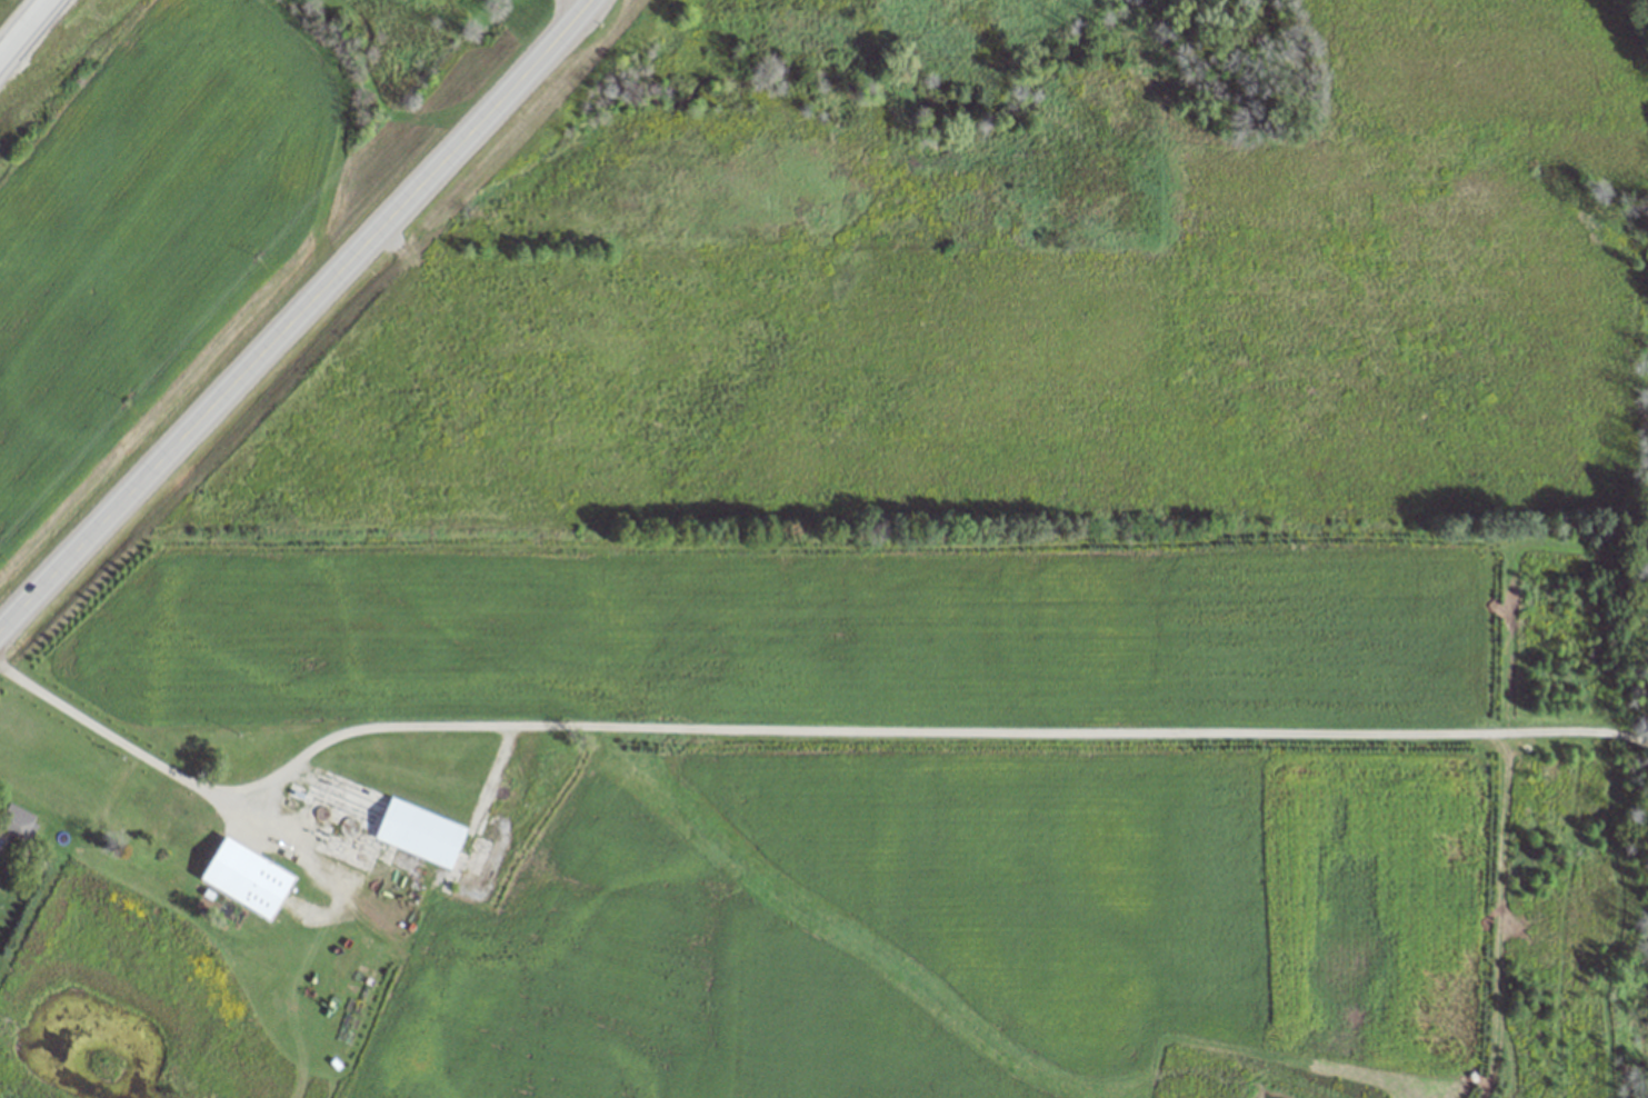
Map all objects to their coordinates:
road: (572, 9)
road: (32, 41)
road: (296, 323)
road: (798, 735)
building: (410, 780)
building: (387, 819)
building: (248, 878)

